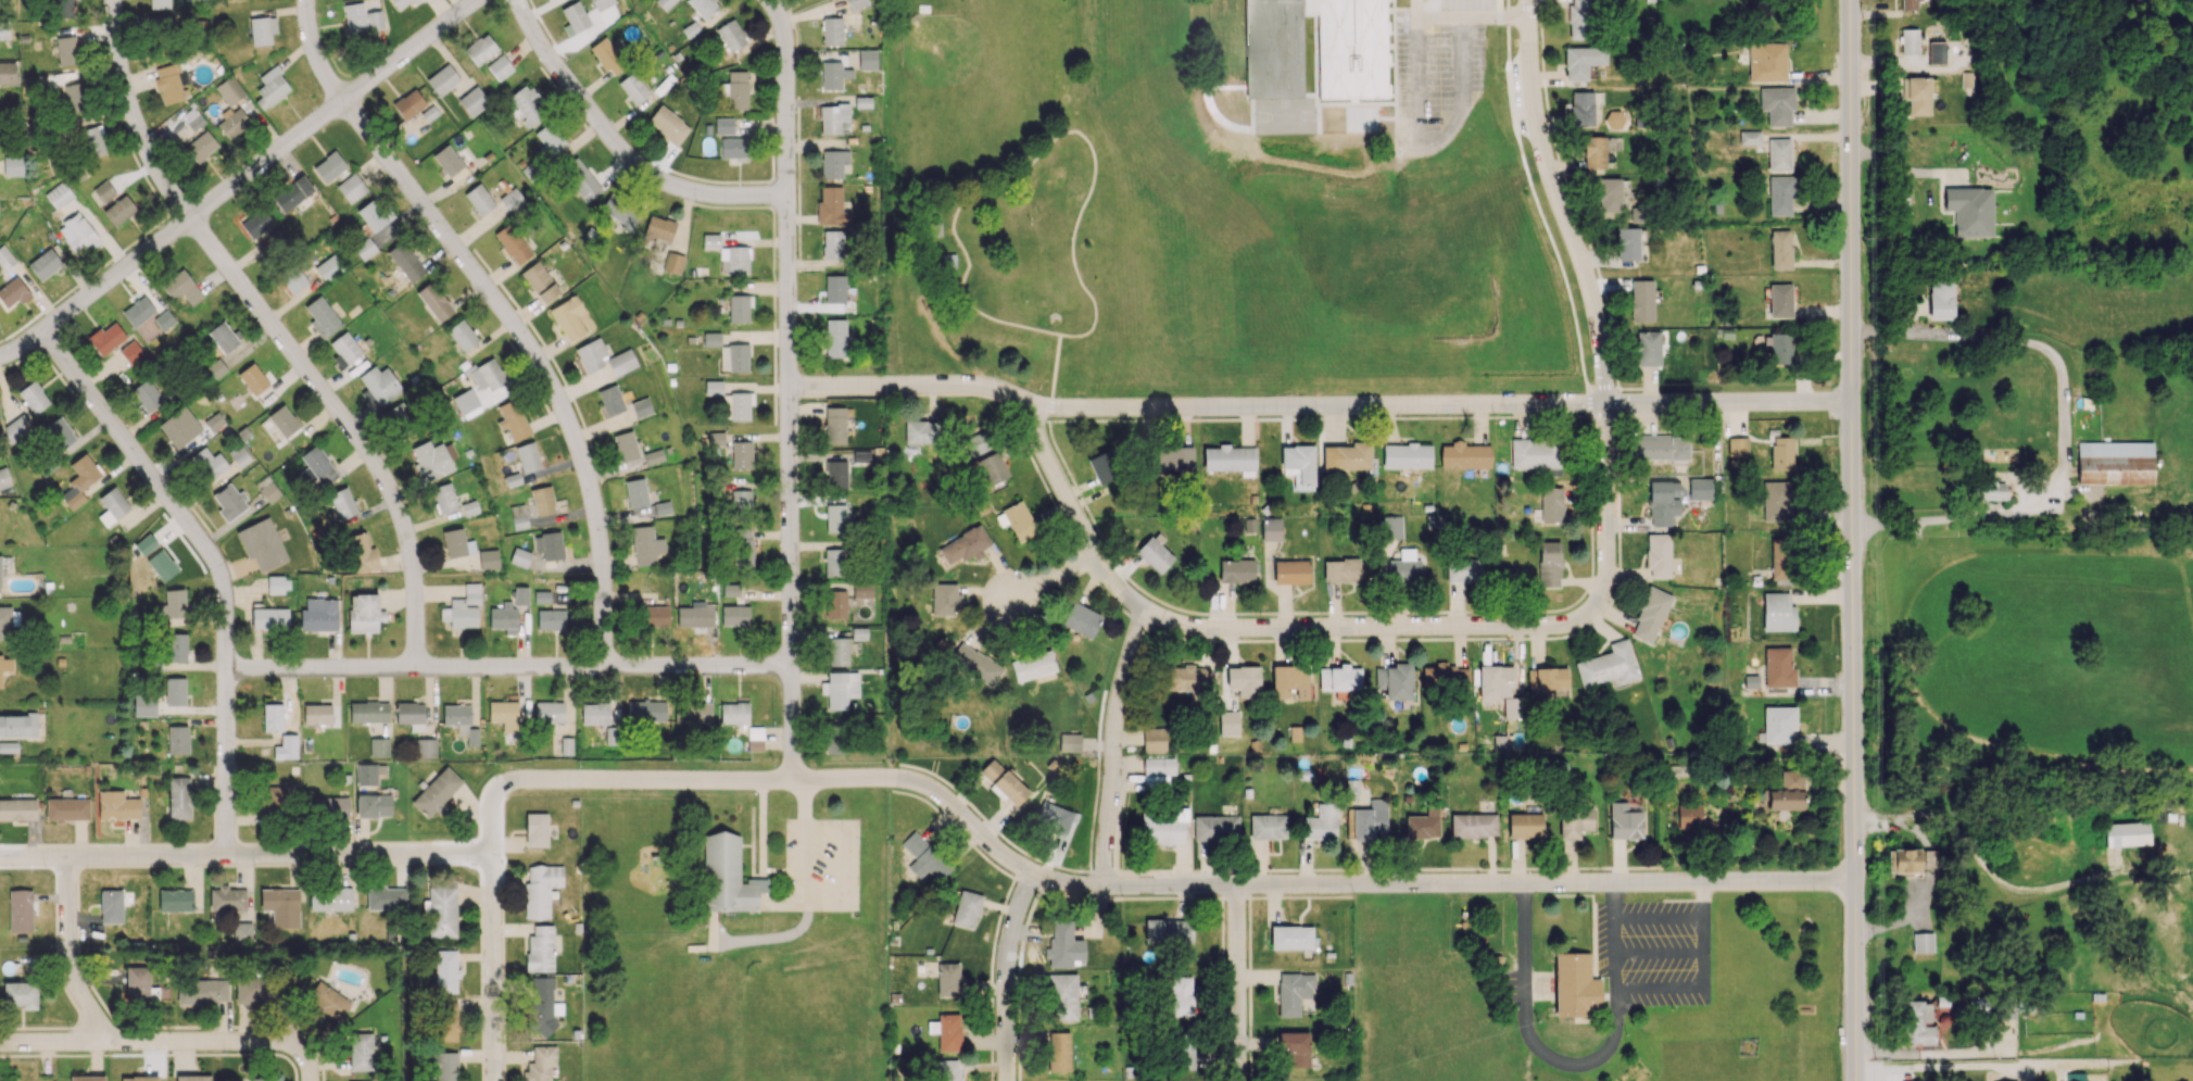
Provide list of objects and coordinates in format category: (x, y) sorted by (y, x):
building: (159, 3)
building: (401, 3)
building: (602, 3)
building: (664, 3)
building: (856, 4)
building: (1908, 4)
building: (703, 7)
building: (65, 8)
building: (1225, 9)
road: (1416, 9)
road: (1514, 16)
building: (575, 17)
road: (1459, 17)
building: (361, 18)
building: (1580, 18)
building: (1372, 23)
building: (160, 25)
building: (1335, 25)
building: (262, 29)
building: (831, 30)
building: (731, 35)
building: (1226, 41)
building: (1910, 46)
building: (66, 48)
building: (480, 49)
building: (1275, 49)
building: (1335, 53)
building: (1373, 53)
building: (607, 55)
building: (867, 60)
building: (1581, 61)
building: (1766, 62)
building: (500, 67)
building: (9, 73)
building: (833, 75)
parking lot: (1437, 75)
building: (442, 79)
building: (1227, 80)
building: (34, 83)
building: (172, 83)
building: (1336, 85)
building: (1373, 85)
park: (975, 86)
building: (270, 88)
building: (633, 88)
building: (736, 89)
building: (229, 90)
building: (1917, 95)
building: (75, 97)
building: (472, 101)
building: (861, 102)
building: (408, 103)
building: (528, 104)
building: (1777, 104)
building: (1581, 109)
building: (832, 117)
building: (192, 118)
building: (1614, 120)
building: (232, 123)
building: (668, 125)
building: (723, 127)
road: (1084, 137)
building: (1750, 138)
building: (549, 139)
building: (92, 140)
road: (1432, 146)
building: (201, 147)
building: (733, 148)
road: (620, 150)
building: (1593, 152)
building: (1778, 154)
building: (448, 160)
building: (833, 163)
building: (13, 165)
building: (329, 166)
road: (242, 179)
building: (581, 179)
building: (352, 187)
building: (103, 191)
park: (1038, 191)
building: (292, 193)
building: (59, 194)
building: (1609, 194)
building: (1779, 196)
building: (479, 199)
building: (512, 200)
building: (831, 206)
building: (118, 209)
building: (1969, 211)
building: (619, 213)
building: (374, 214)
building: (256, 223)
road: (1029, 226)
building: (659, 228)
road: (954, 228)
building: (934, 230)
building: (76, 234)
building: (710, 240)
building: (1627, 243)
building: (512, 244)
building: (832, 244)
road: (1072, 247)
building: (365, 249)
building: (1780, 249)
road: (1576, 253)
building: (5, 257)
building: (733, 260)
building: (405, 262)
building: (673, 262)
building: (949, 262)
building: (45, 263)
building: (328, 267)
road: (1018, 278)
building: (293, 279)
building: (540, 281)
building: (181, 287)
building: (1523, 287)
building: (837, 289)
building: (13, 292)
building: (1940, 299)
building: (1641, 300)
building: (1780, 300)
building: (434, 301)
building: (739, 307)
road: (1095, 309)
building: (138, 311)
road: (506, 312)
building: (322, 316)
building: (568, 318)
building: (164, 319)
road: (1007, 323)
road: (275, 332)
building: (462, 335)
building: (223, 337)
building: (105, 338)
building: (711, 338)
building: (835, 338)
building: (345, 348)
building: (1648, 348)
building: (1780, 349)
building: (131, 352)
building: (591, 355)
building: (738, 357)
building: (621, 362)
road: (1055, 370)
building: (486, 374)
building: (252, 379)
building: (380, 385)
building: (713, 387)
road: (790, 389)
building: (147, 395)
building: (33, 397)
building: (610, 400)
building: (465, 402)
building: (740, 405)
road: (1318, 406)
building: (641, 407)
building: (398, 413)
building: (512, 419)
building: (282, 420)
building: (834, 425)
building: (180, 426)
road: (2065, 426)
building: (14, 430)
building: (921, 432)
building: (59, 433)
building: (716, 439)
building: (978, 442)
building: (625, 445)
building: (1738, 447)
building: (1660, 448)
building: (1535, 453)
building: (1781, 453)
building: (741, 454)
building: (1406, 455)
building: (1464, 455)
building: (239, 456)
building: (653, 456)
building: (1347, 456)
building: (527, 457)
building: (1174, 457)
building: (1230, 458)
building: (2114, 462)
building: (209, 463)
building: (318, 465)
building: (1299, 465)
building: (1102, 466)
building: (993, 469)
building: (836, 475)
building: (3, 478)
building: (79, 480)
road: (1059, 483)
building: (1699, 489)
building: (1991, 491)
building: (635, 492)
building: (443, 498)
building: (542, 500)
building: (229, 501)
building: (740, 501)
building: (1663, 501)
building: (1777, 501)
building: (342, 502)
building: (1550, 504)
building: (112, 506)
building: (469, 507)
building: (518, 516)
building: (835, 518)
building: (1019, 520)
building: (1389, 526)
building: (1270, 529)
road: (1851, 540)
building: (261, 543)
building: (455, 543)
building: (146, 544)
building: (549, 544)
building: (645, 545)
building: (740, 546)
building: (962, 548)
building: (360, 553)
building: (1155, 553)
building: (1658, 554)
building: (519, 557)
building: (1780, 558)
building: (489, 560)
building: (834, 562)
building: (1549, 564)
building: (162, 565)
road: (216, 567)
building: (1406, 567)
building: (1236, 570)
building: (1340, 570)
building: (1463, 570)
building: (1290, 571)
building: (0, 574)
road: (1054, 578)
building: (275, 583)
building: (861, 590)
building: (520, 595)
building: (945, 600)
building: (836, 604)
building: (172, 608)
building: (463, 608)
building: (1777, 612)
building: (364, 613)
building: (318, 615)
building: (653, 615)
building: (691, 615)
building: (734, 615)
building: (1649, 615)
building: (9, 617)
building: (503, 617)
building: (269, 618)
building: (550, 619)
building: (1081, 619)
road: (1385, 629)
building: (176, 646)
building: (837, 651)
building: (975, 664)
building: (1608, 665)
building: (4, 666)
building: (1032, 666)
building: (1778, 667)
road: (512, 669)
building: (1445, 677)
building: (1188, 678)
building: (1339, 678)
building: (1291, 679)
building: (1751, 680)
building: (1243, 681)
building: (1394, 681)
building: (1548, 681)
building: (1495, 682)
building: (840, 689)
building: (175, 691)
building: (143, 705)
building: (1512, 707)
building: (549, 711)
building: (645, 711)
building: (369, 712)
building: (594, 713)
building: (693, 713)
building: (733, 713)
building: (316, 714)
building: (455, 714)
building: (503, 714)
building: (411, 715)
building: (273, 717)
building: (1228, 722)
building: (1778, 724)
building: (17, 726)
building: (1294, 733)
building: (610, 736)
building: (834, 736)
building: (472, 737)
building: (755, 739)
building: (177, 740)
building: (1154, 740)
building: (1069, 742)
building: (1499, 743)
building: (9, 746)
building: (286, 747)
building: (379, 747)
building: (426, 747)
road: (1114, 750)
building: (990, 770)
building: (1157, 771)
building: (366, 775)
building: (1791, 779)
building: (1008, 788)
building: (437, 792)
building: (274, 796)
building: (179, 797)
building: (1781, 800)
building: (116, 805)
building: (373, 806)
building: (330, 807)
building: (17, 809)
building: (66, 809)
building: (1688, 816)
building: (1056, 817)
building: (1370, 820)
building: (1625, 820)
building: (1321, 822)
building: (1574, 822)
building: (1423, 825)
building: (1473, 825)
building: (1525, 825)
building: (1266, 826)
building: (1163, 827)
building: (1215, 828)
building: (535, 829)
building: (2126, 833)
road: (248, 857)
building: (924, 857)
building: (1903, 860)
road: (1984, 863)
building: (727, 876)
building: (540, 889)
road: (1180, 890)
building: (386, 897)
building: (330, 898)
building: (175, 900)
building: (111, 906)
building: (281, 906)
building: (232, 909)
building: (967, 909)
building: (20, 910)
building: (441, 912)
road: (495, 916)
building: (1168, 930)
building: (1291, 938)
building: (1923, 942)
building: (1061, 943)
building: (540, 950)
building: (1076, 950)
road: (70, 955)
building: (445, 970)
road: (1008, 975)
building: (947, 979)
building: (137, 984)
road: (1238, 985)
building: (1575, 986)
building: (254, 990)
building: (202, 991)
building: (1293, 992)
building: (21, 994)
building: (1181, 995)
building: (1062, 996)
building: (327, 1000)
building: (1978, 1005)
building: (543, 1006)
building: (446, 1022)
building: (1918, 1023)
building: (948, 1032)
road: (153, 1042)
building: (1294, 1049)
building: (361, 1052)
building: (1058, 1052)
building: (1184, 1053)
building: (540, 1064)
building: (445, 1066)
road: (1576, 1066)
road: (310, 1067)
building: (948, 1070)
building: (87, 1078)
building: (139, 1078)
building: (193, 1078)
building: (261, 1079)

